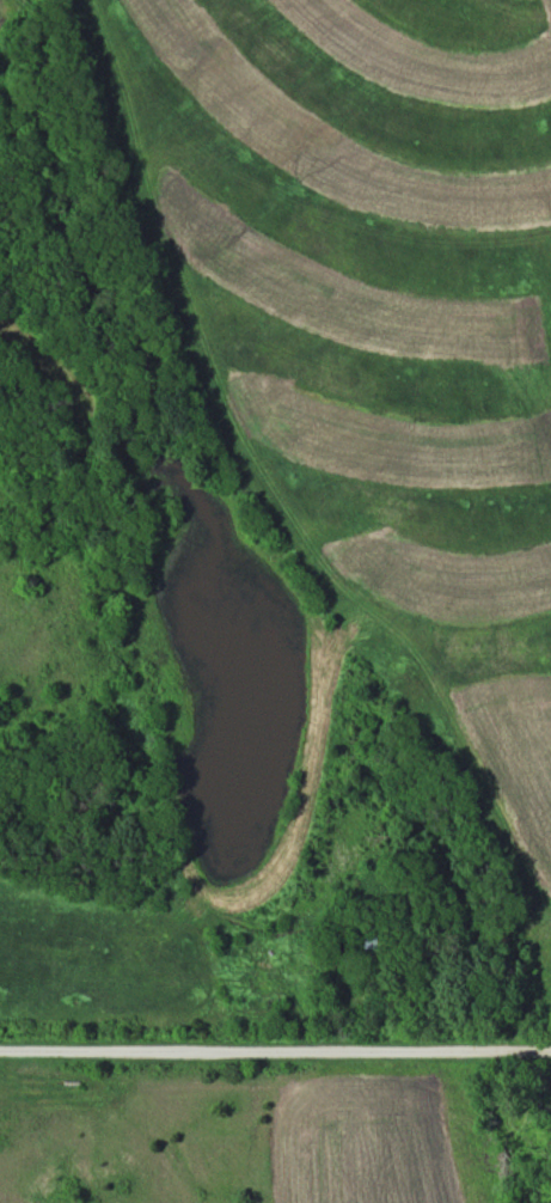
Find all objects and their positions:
building: (367, 940)
road: (275, 1049)

